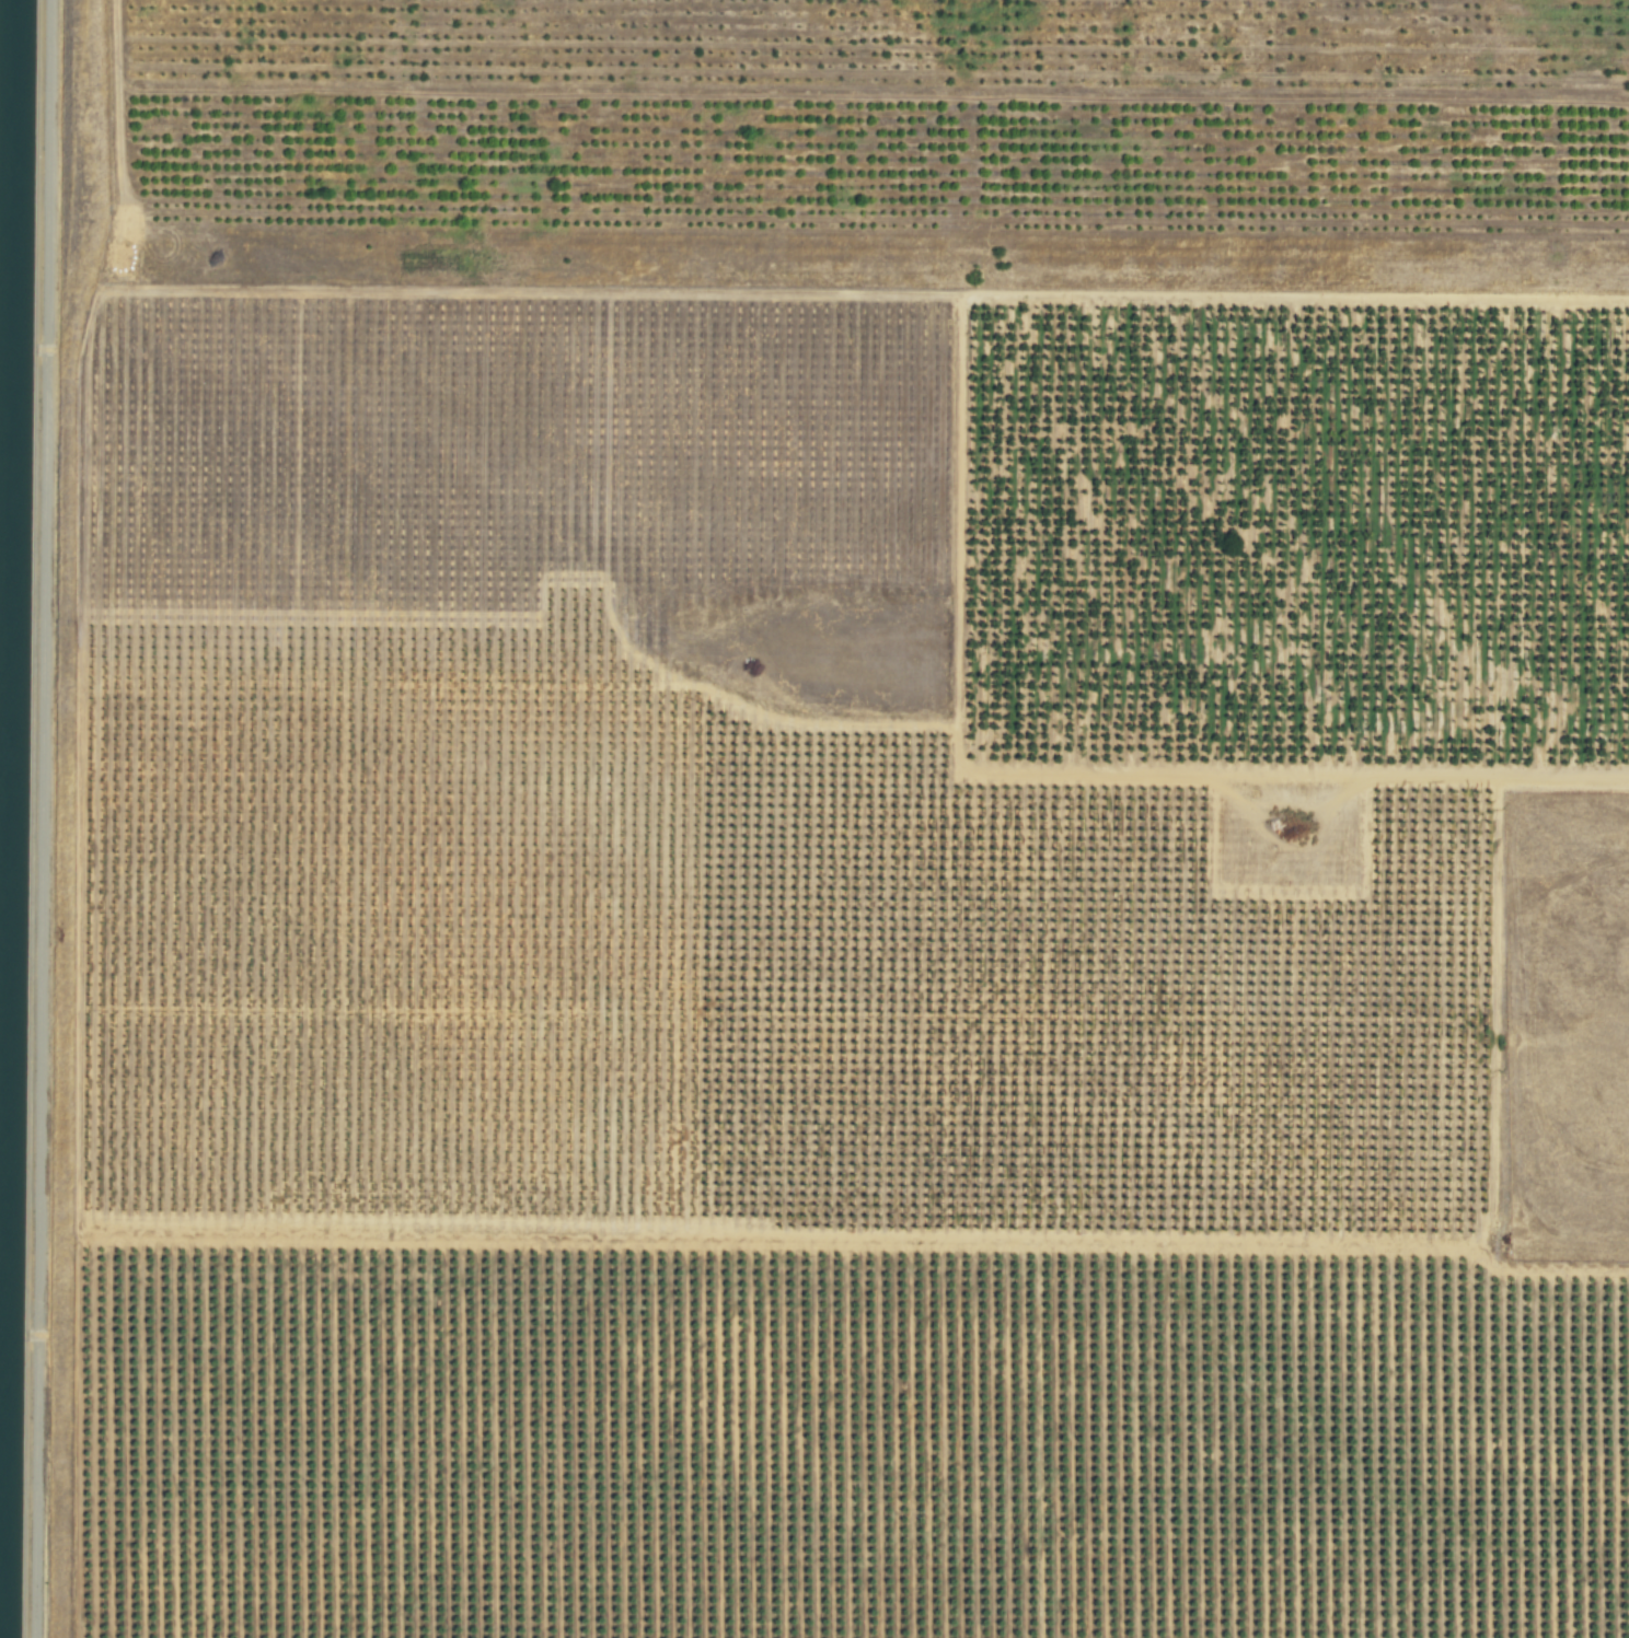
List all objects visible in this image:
road: (881, 279)
road: (1291, 772)

